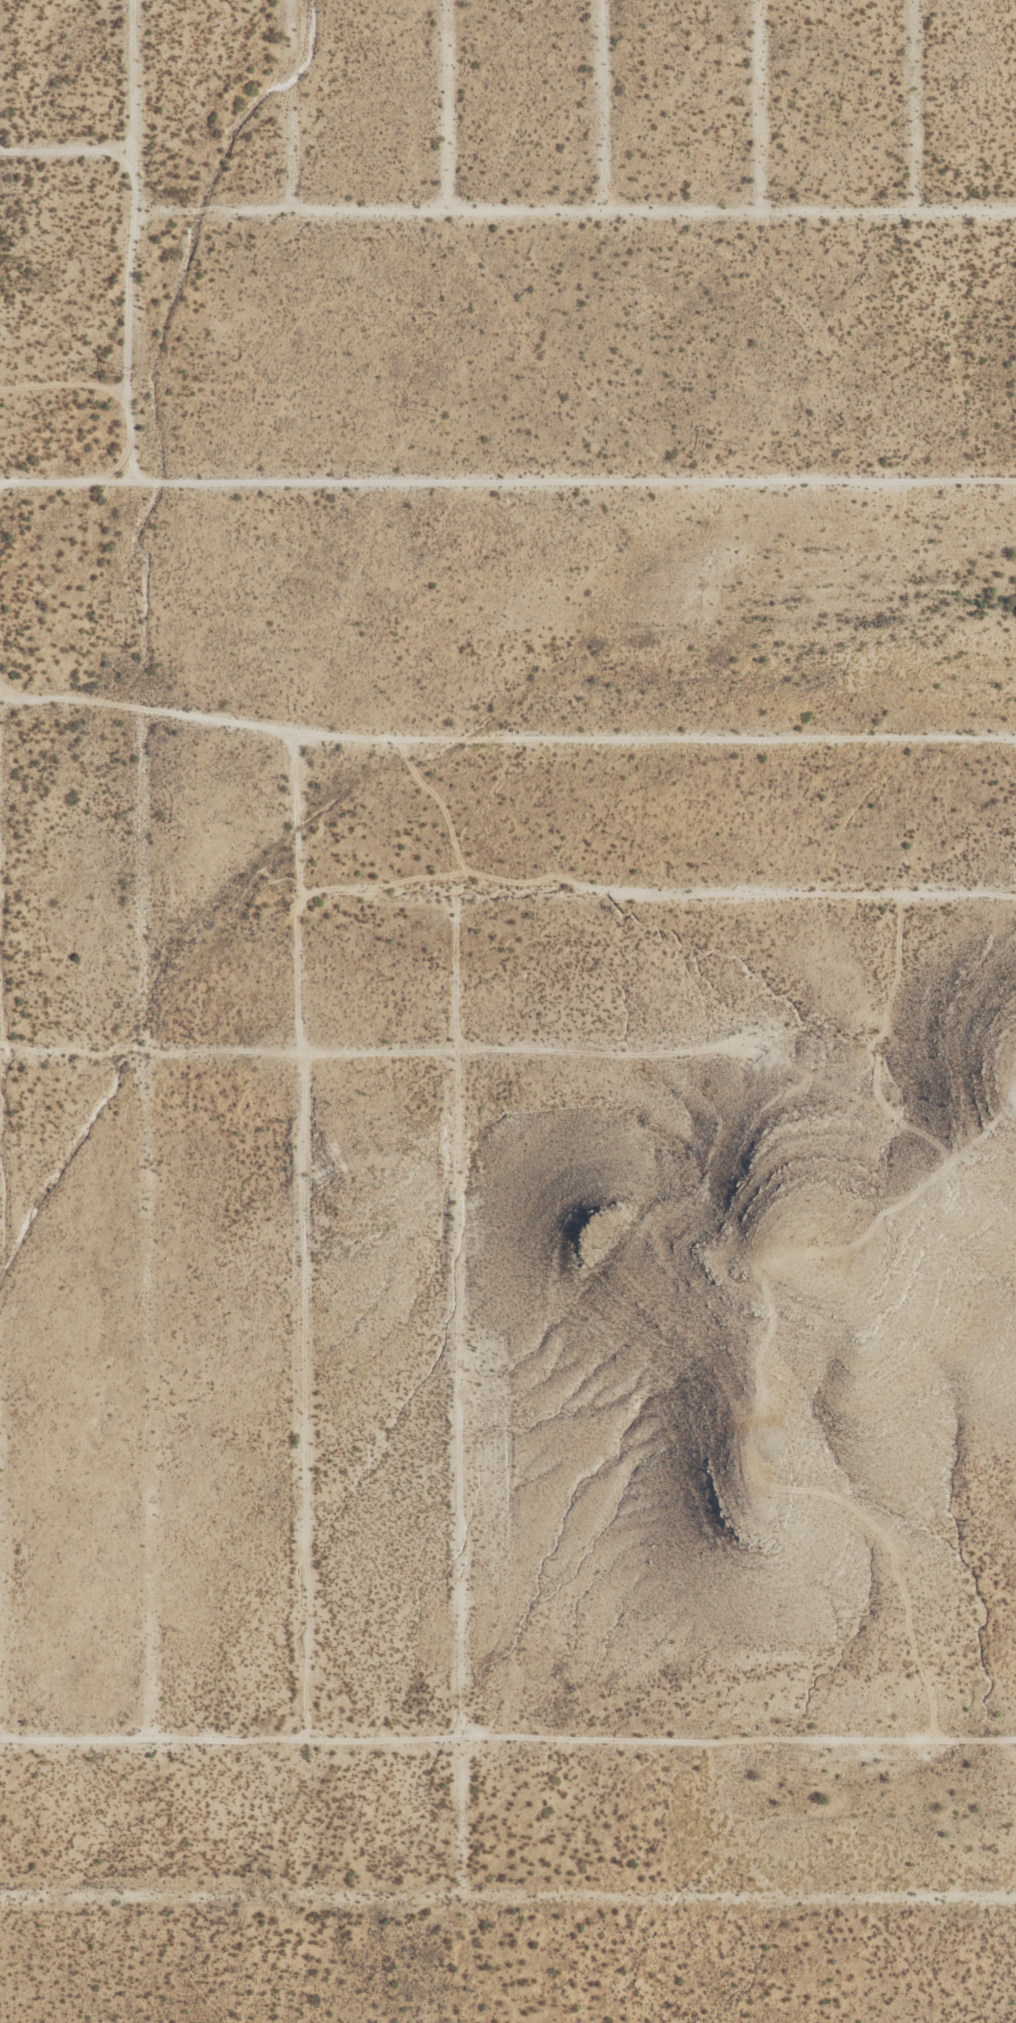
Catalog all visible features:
road: (288, 113)
road: (442, 114)
road: (599, 114)
road: (757, 114)
road: (913, 114)
road: (65, 166)
road: (573, 228)
road: (130, 241)
road: (507, 481)
road: (506, 739)
road: (658, 892)
road: (72, 1052)
road: (305, 1053)
road: (145, 1232)
road: (303, 1243)
road: (458, 1395)
road: (507, 1742)
road: (508, 1898)

